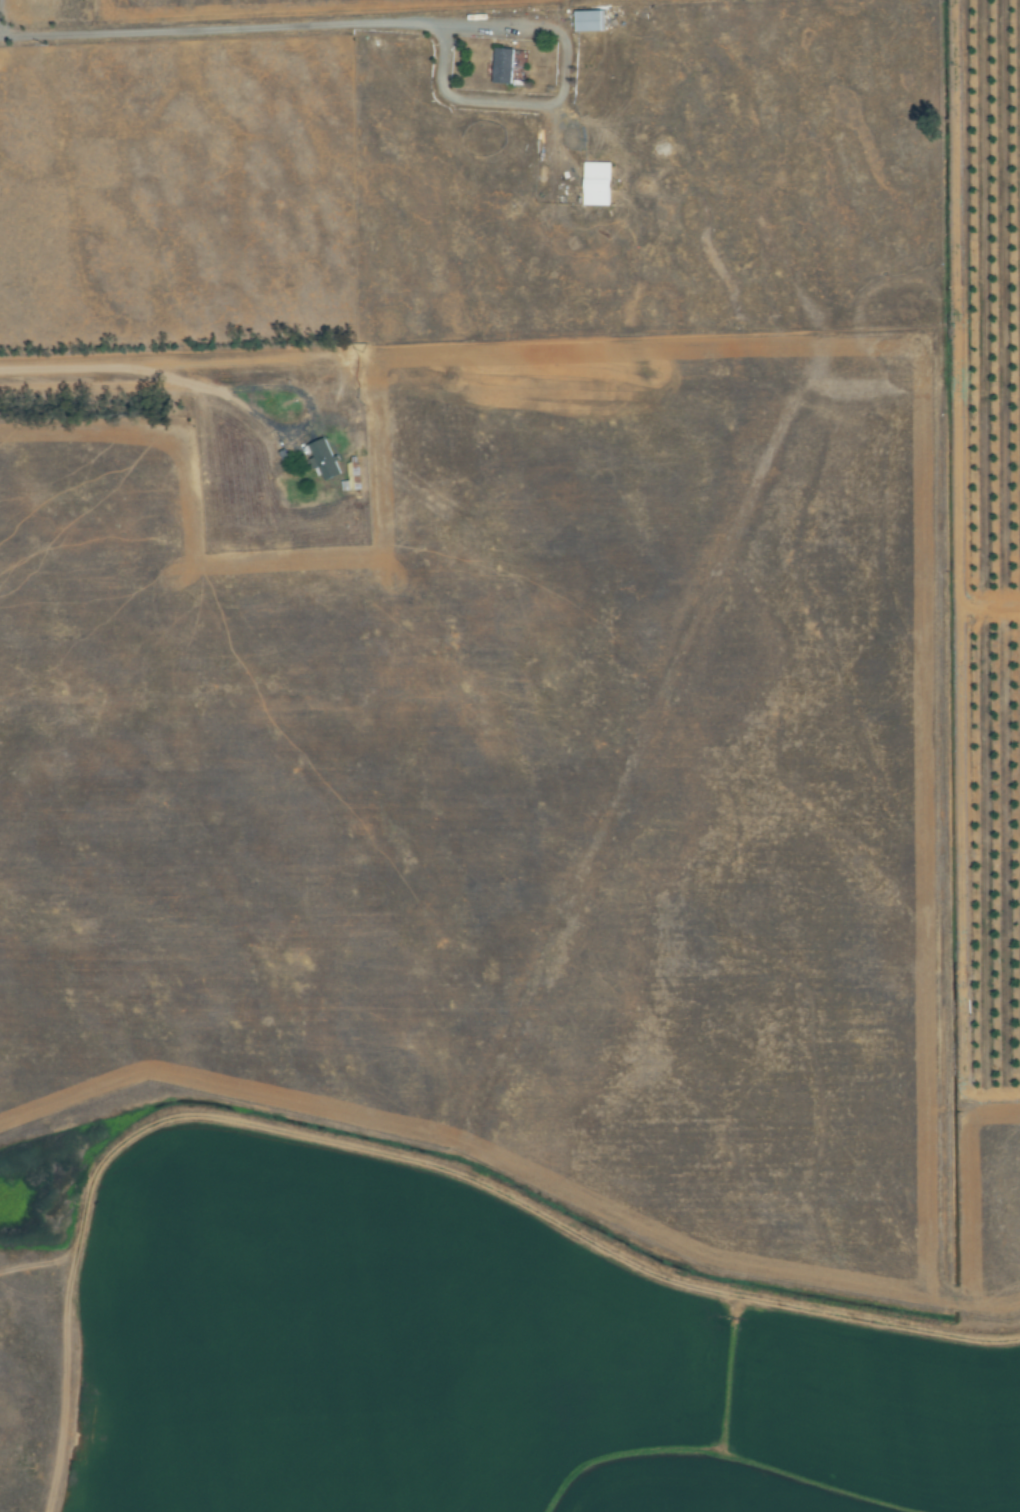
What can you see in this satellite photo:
building: (590, 21)
road: (474, 26)
building: (503, 67)
building: (597, 184)
road: (141, 385)
building: (324, 459)
building: (352, 478)
road: (992, 1085)
road: (478, 1192)

